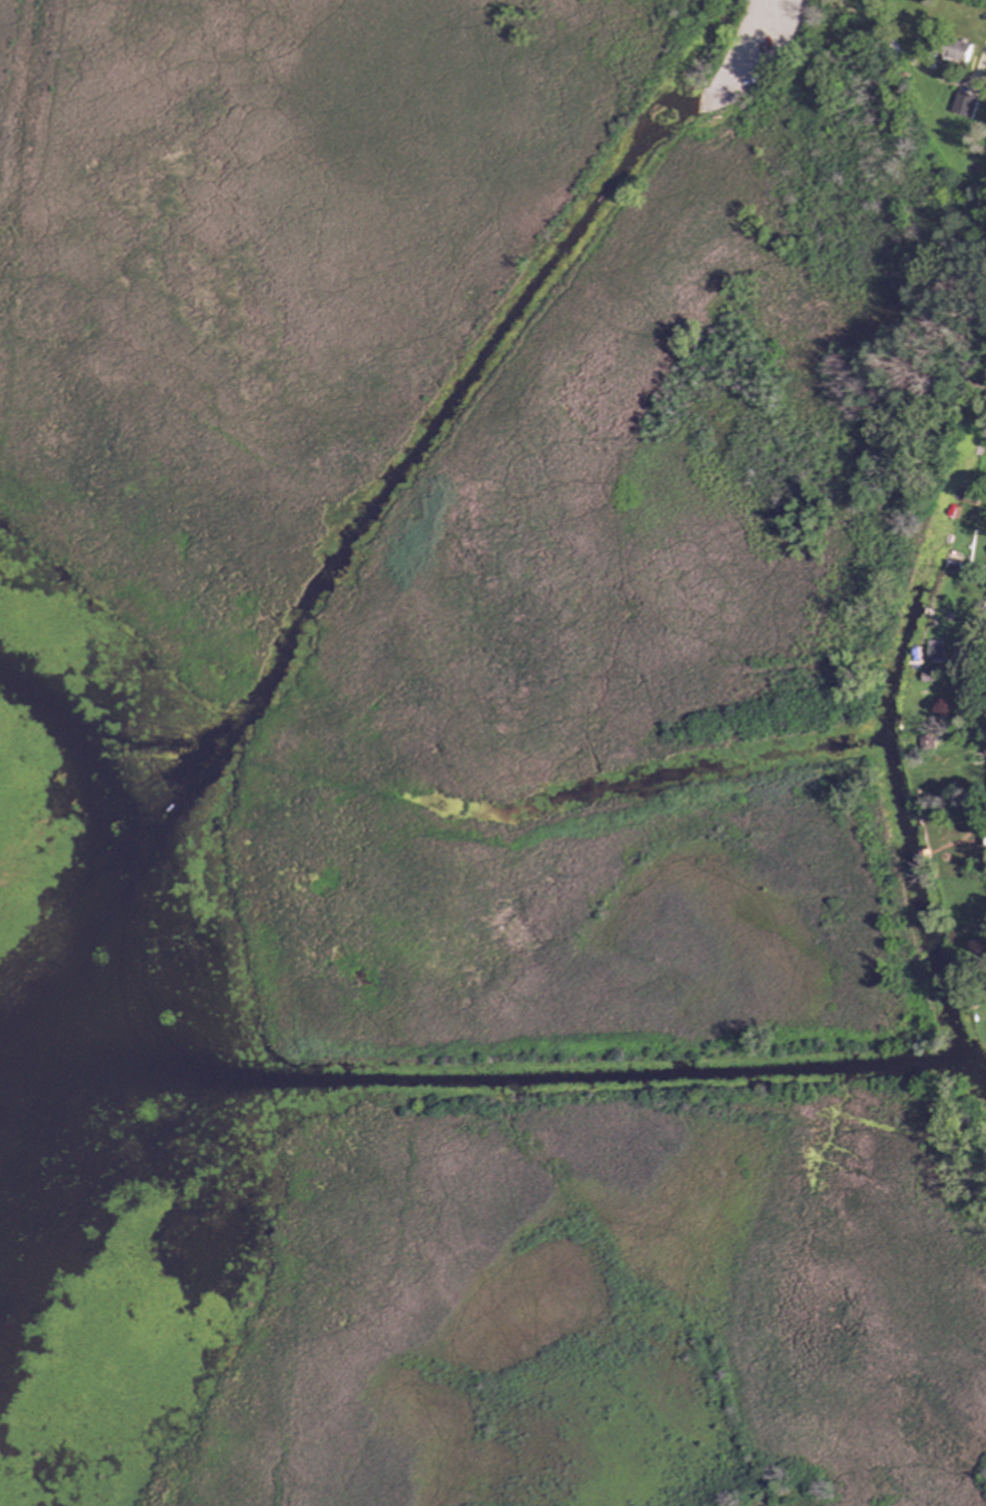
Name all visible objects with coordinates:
building: (958, 50)
road: (732, 85)
building: (964, 103)
building: (969, 494)
building: (933, 652)
building: (924, 743)

